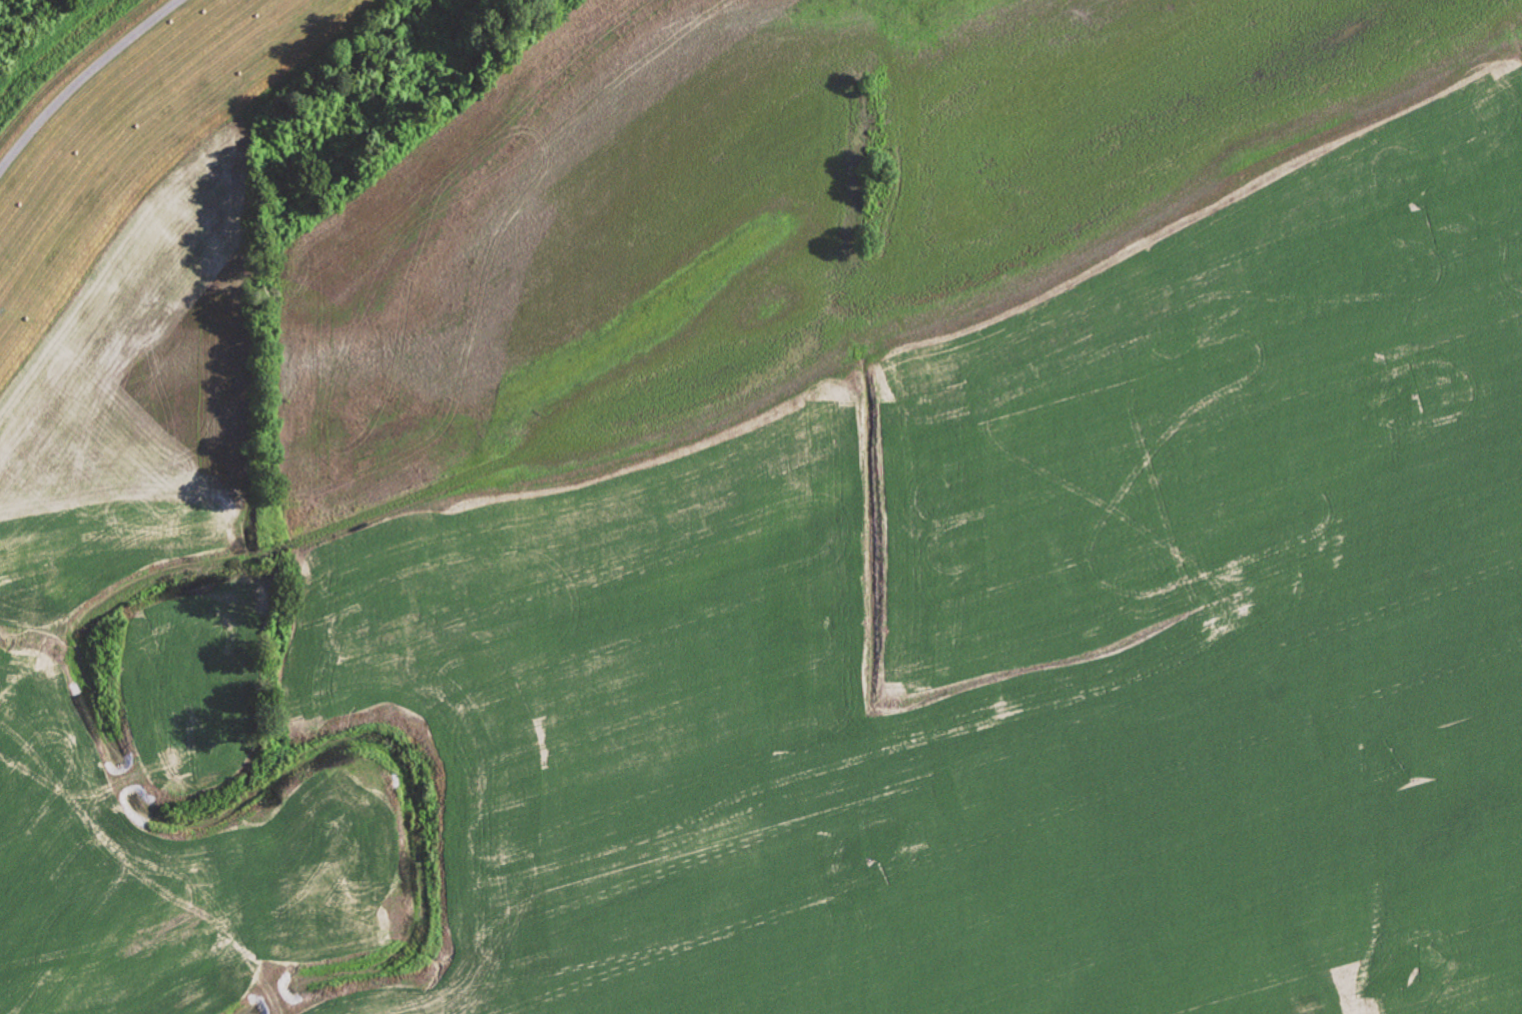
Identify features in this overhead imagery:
road: (82, 80)

